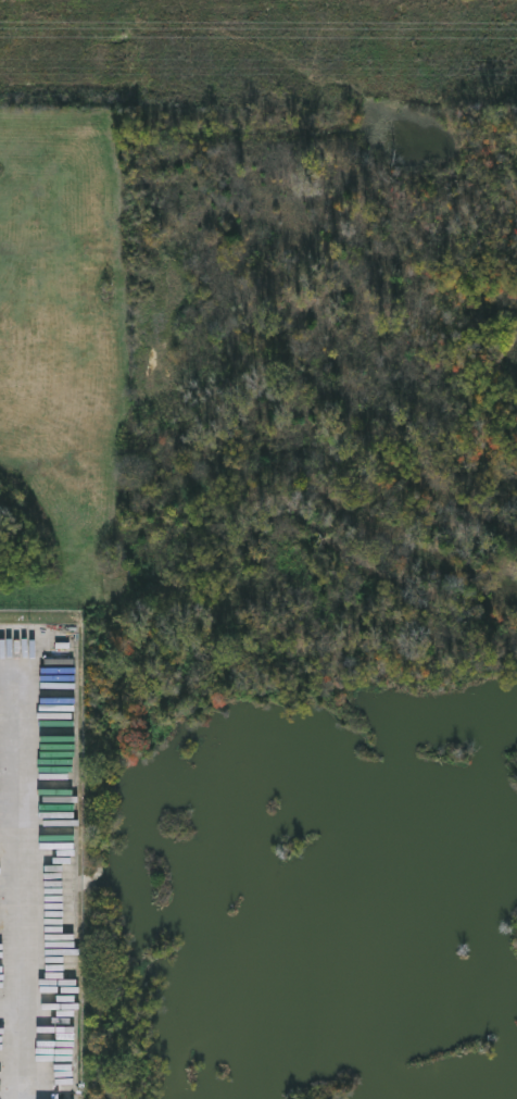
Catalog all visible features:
road: (14, 665)
road: (13, 840)
road: (26, 882)

